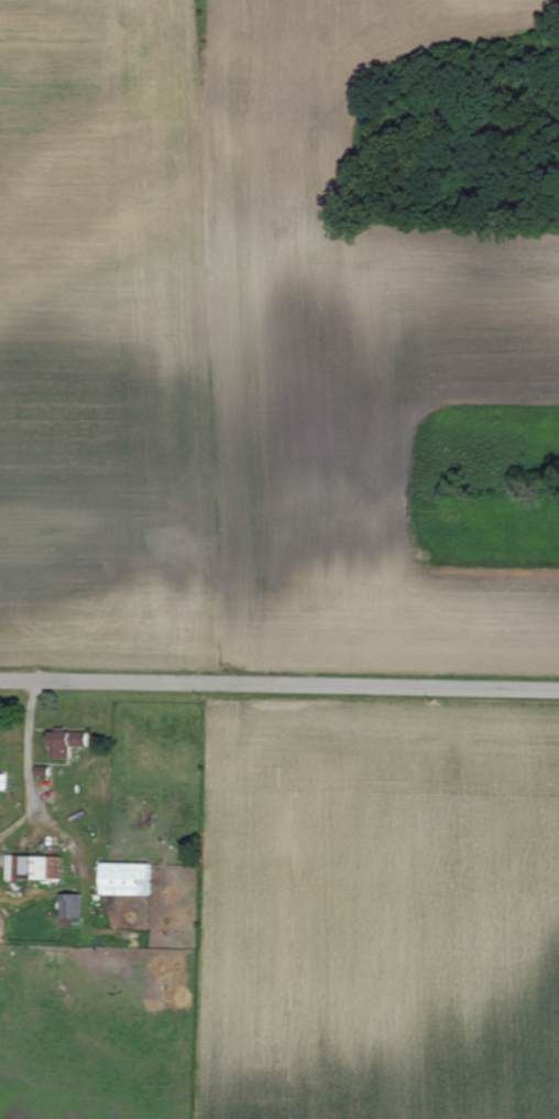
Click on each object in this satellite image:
road: (279, 682)

